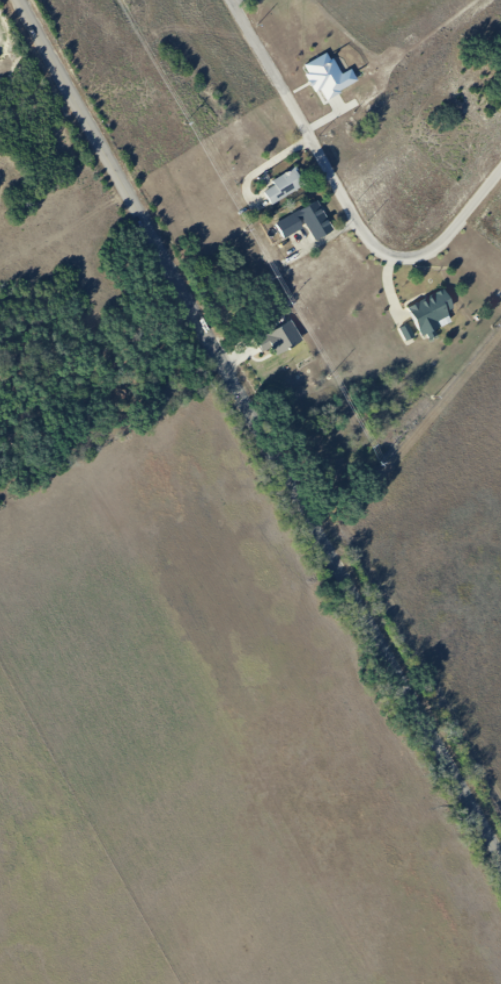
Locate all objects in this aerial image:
building: (334, 79)
park: (360, 180)
building: (289, 190)
road: (343, 196)
building: (311, 224)
building: (437, 316)
building: (288, 342)
road: (262, 424)

